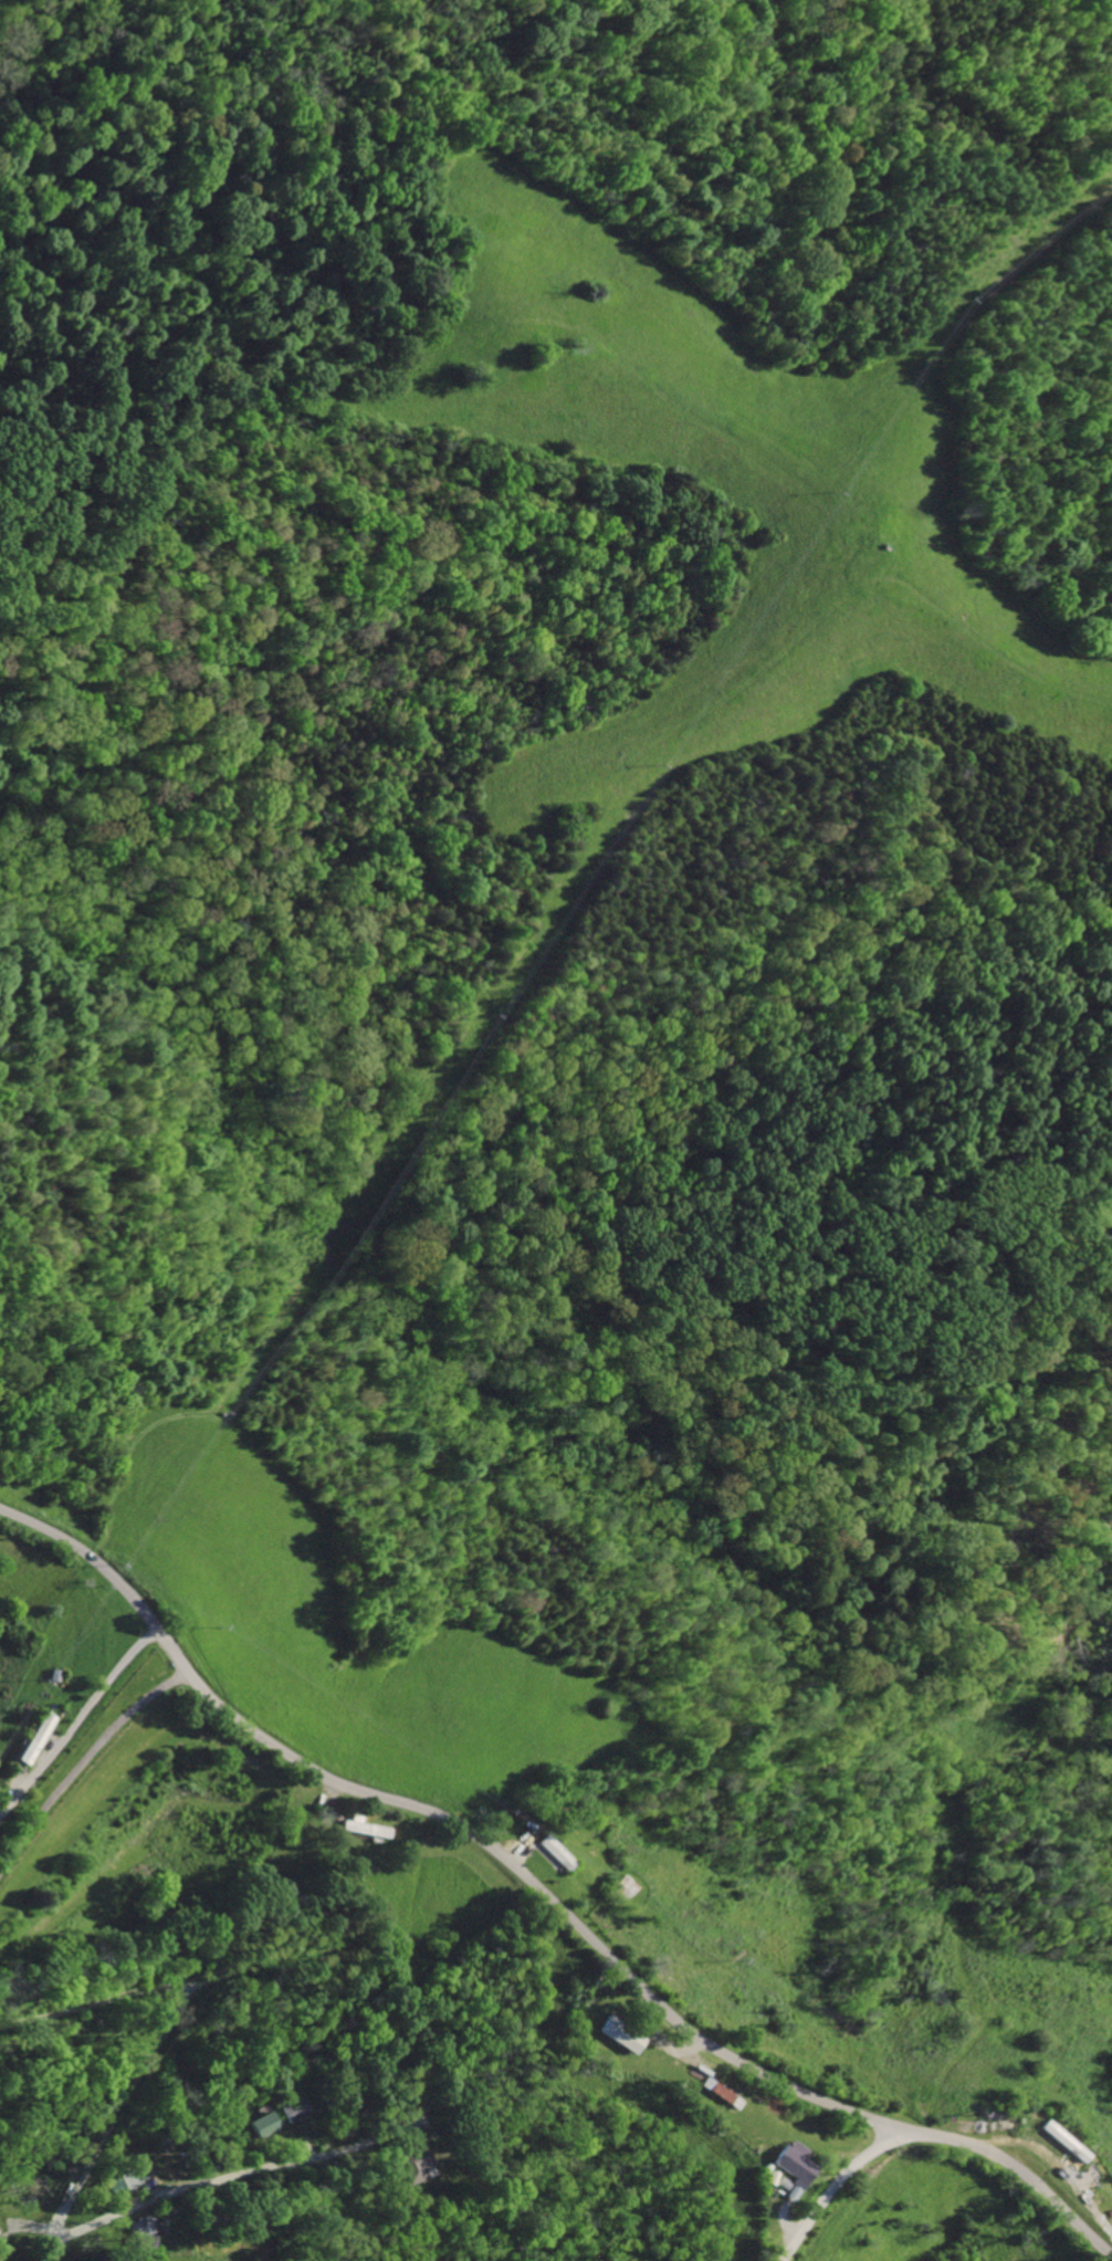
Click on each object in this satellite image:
road: (75, 1718)
building: (35, 1740)
road: (80, 1751)
building: (358, 1829)
building: (554, 1854)
road: (546, 1896)
road: (129, 2001)
building: (609, 2038)
building: (714, 2095)
building: (293, 2110)
road: (118, 2123)
building: (262, 2124)
building: (407, 2164)
road: (230, 2174)
road: (832, 2183)

